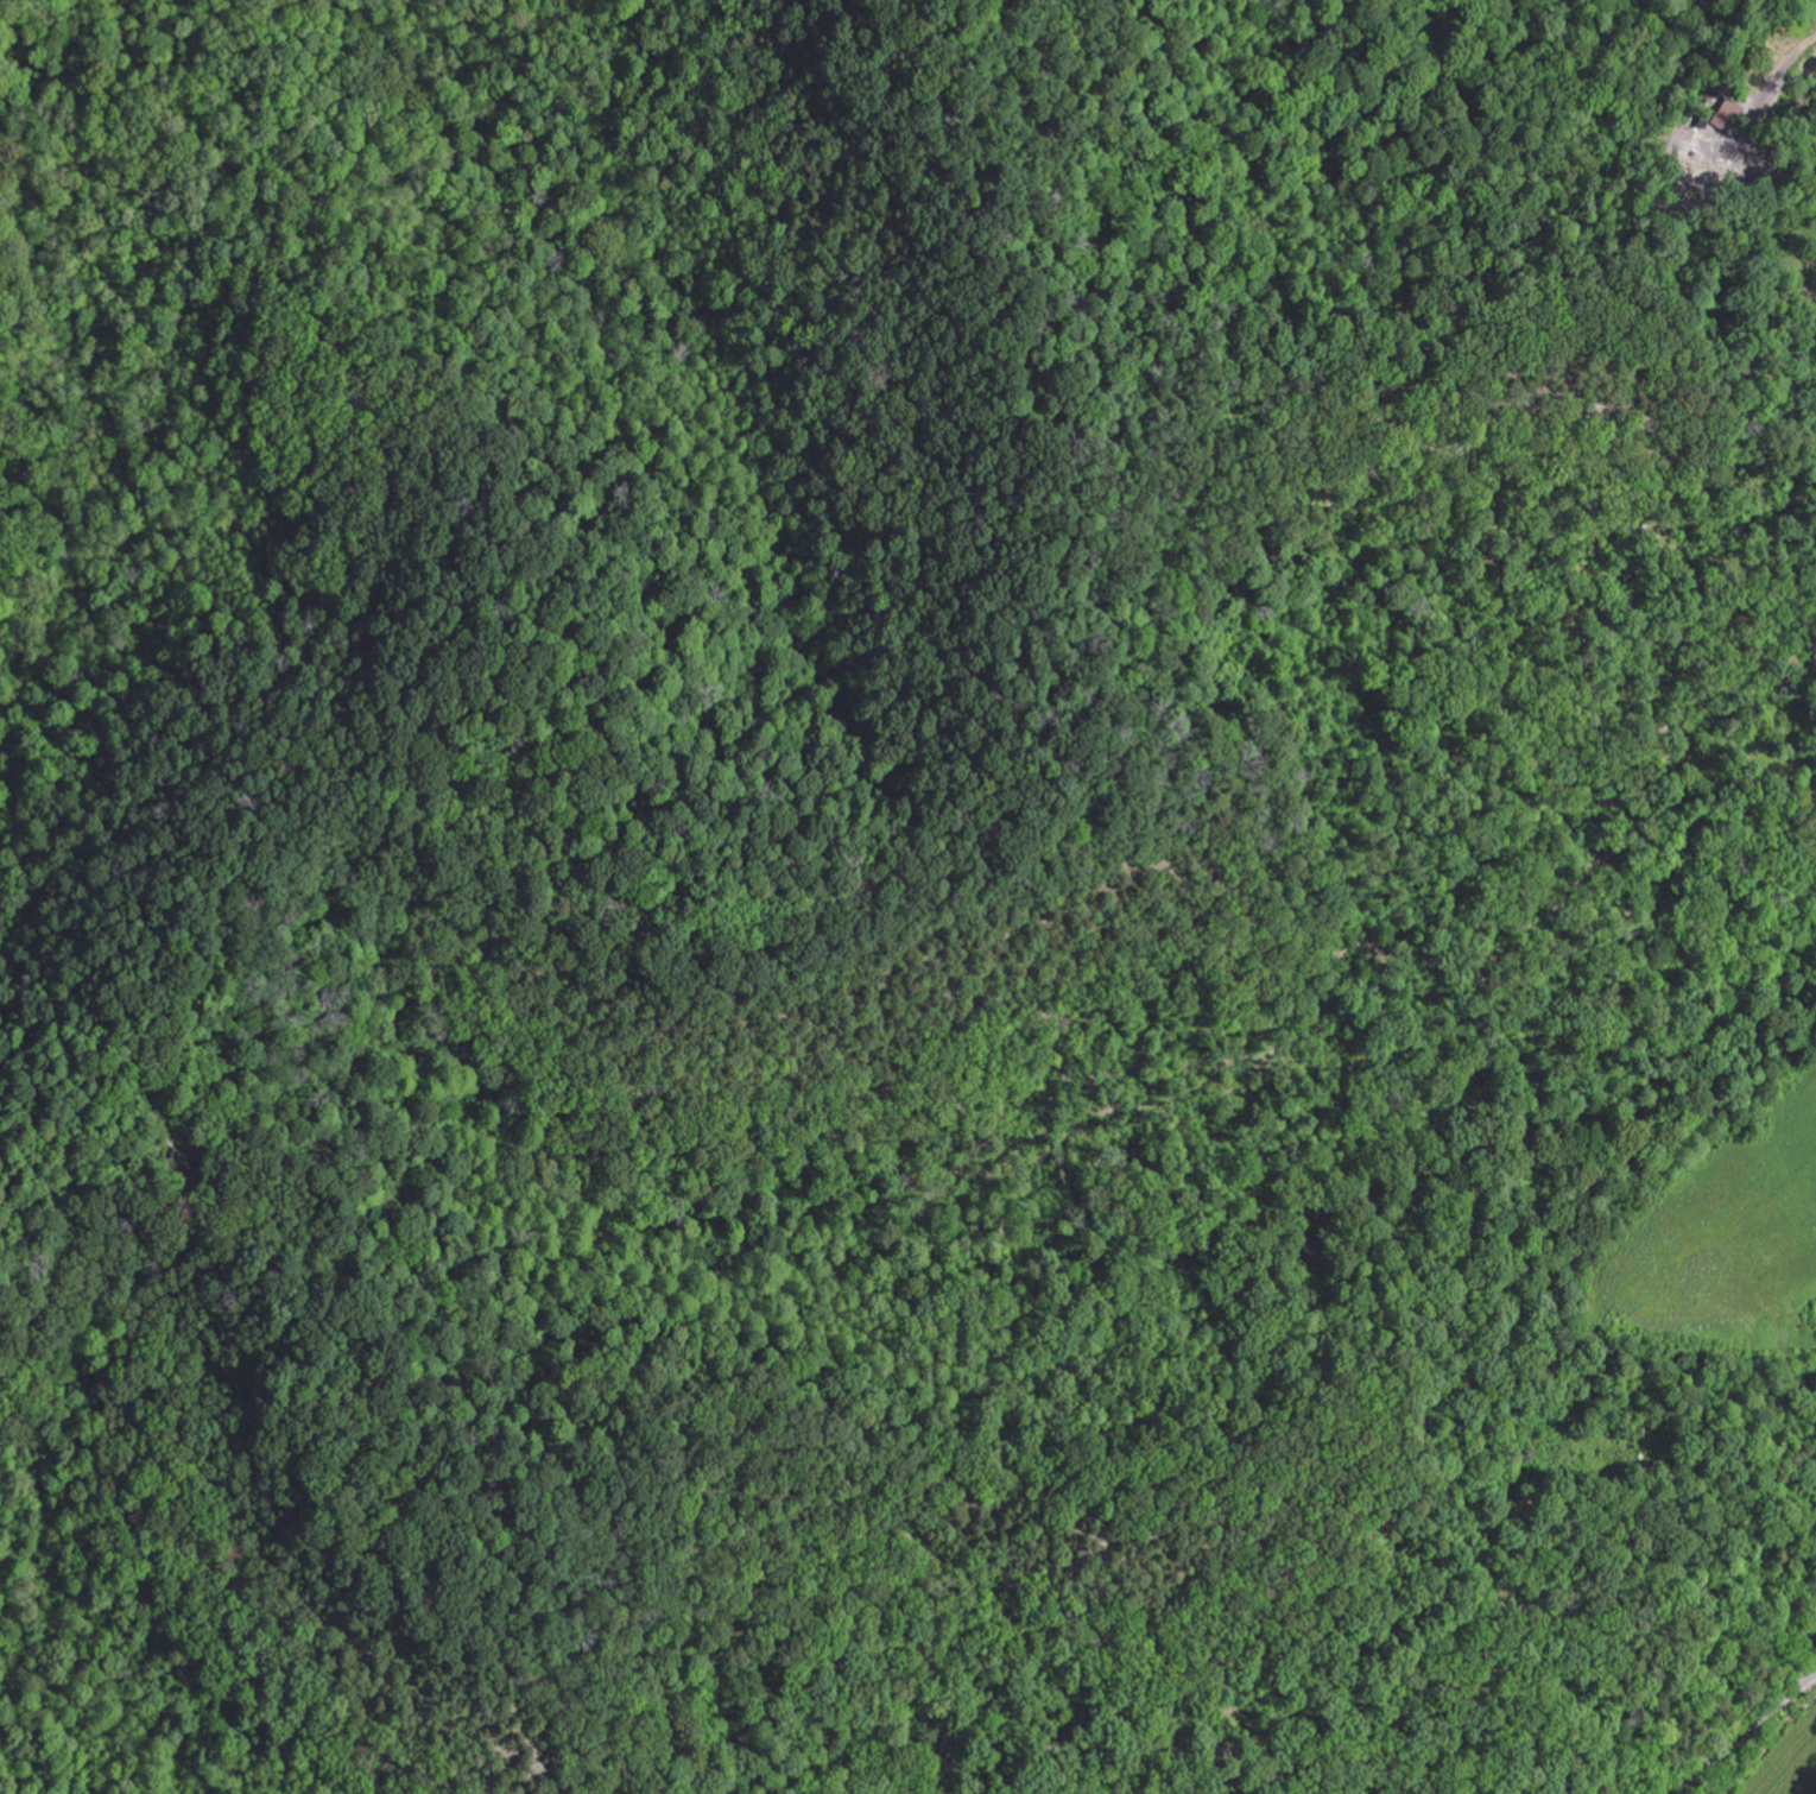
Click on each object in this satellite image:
road: (1740, 1730)

